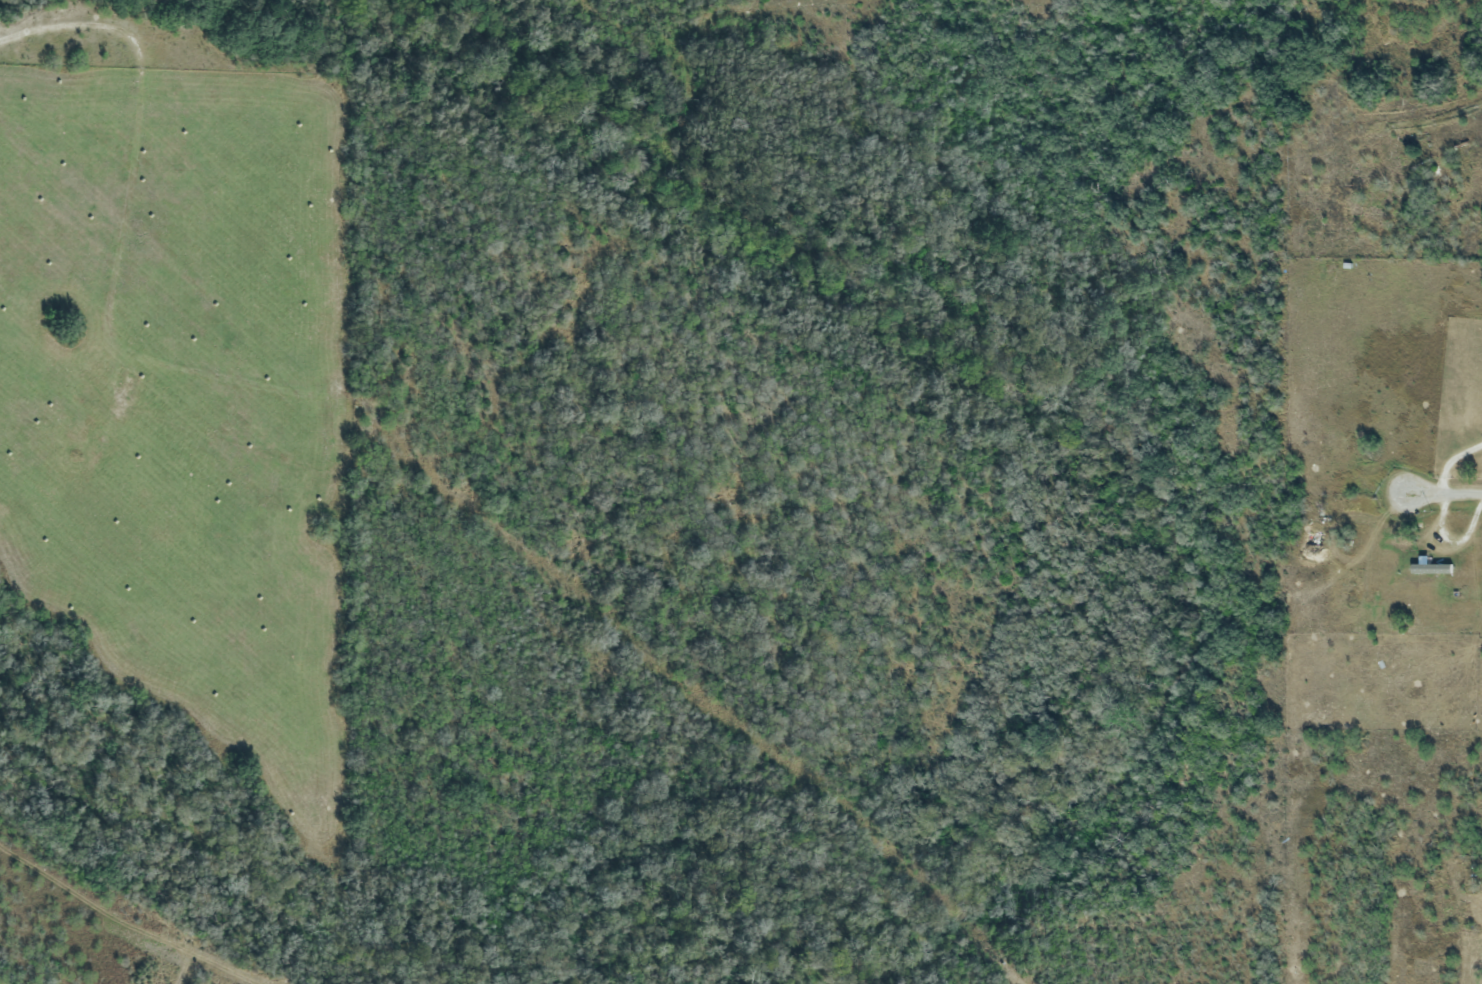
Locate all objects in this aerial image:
road: (1442, 493)

